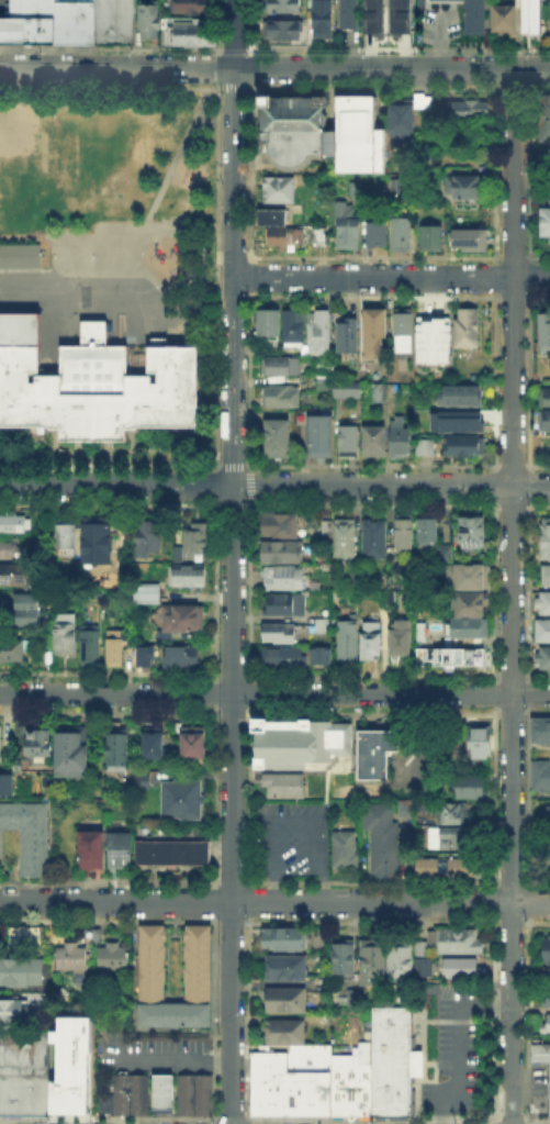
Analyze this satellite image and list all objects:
building: (79, 0)
building: (282, 7)
building: (31, 8)
building: (191, 8)
building: (467, 13)
building: (349, 14)
building: (379, 16)
building: (527, 16)
building: (404, 18)
building: (505, 19)
building: (112, 21)
building: (549, 21)
building: (71, 22)
building: (149, 22)
building: (324, 23)
road: (251, 25)
road: (217, 26)
building: (25, 30)
building: (283, 32)
building: (190, 33)
road: (110, 46)
road: (234, 47)
road: (399, 47)
road: (217, 67)
road: (252, 67)
road: (274, 69)
road: (110, 86)
road: (232, 87)
road: (371, 88)
road: (513, 89)
road: (539, 89)
building: (464, 115)
building: (406, 118)
building: (547, 124)
building: (324, 136)
road: (233, 137)
road: (251, 173)
building: (468, 189)
building: (280, 191)
road: (154, 193)
park: (112, 194)
building: (546, 225)
building: (280, 229)
building: (347, 229)
building: (377, 235)
building: (402, 235)
building: (467, 236)
building: (321, 238)
building: (433, 241)
building: (19, 254)
road: (216, 276)
road: (251, 276)
road: (391, 277)
road: (14, 299)
road: (130, 301)
building: (269, 325)
building: (295, 330)
building: (467, 330)
building: (404, 332)
building: (543, 332)
building: (322, 334)
building: (428, 334)
building: (375, 335)
building: (348, 337)
building: (282, 366)
building: (323, 377)
road: (250, 379)
road: (232, 380)
building: (91, 382)
building: (385, 388)
building: (347, 391)
building: (460, 396)
building: (545, 398)
building: (281, 399)
building: (465, 422)
building: (547, 425)
building: (319, 435)
building: (278, 438)
building: (401, 438)
building: (350, 444)
building: (375, 446)
building: (464, 447)
building: (426, 448)
road: (110, 464)
road: (233, 465)
road: (372, 465)
road: (512, 465)
road: (537, 465)
road: (115, 483)
road: (251, 483)
road: (390, 483)
road: (216, 485)
road: (111, 502)
road: (233, 504)
road: (372, 504)
road: (537, 504)
road: (512, 505)
building: (14, 525)
building: (281, 526)
building: (428, 532)
building: (405, 534)
building: (472, 534)
building: (149, 535)
building: (63, 536)
building: (345, 541)
building: (545, 541)
building: (375, 542)
building: (98, 543)
building: (193, 545)
building: (8, 552)
building: (285, 555)
building: (15, 576)
building: (467, 576)
building: (547, 577)
building: (189, 578)
building: (285, 580)
road: (215, 590)
road: (250, 590)
building: (147, 597)
road: (512, 597)
building: (545, 602)
building: (2, 604)
building: (470, 604)
building: (287, 605)
building: (27, 612)
building: (182, 621)
building: (324, 627)
building: (467, 630)
building: (543, 632)
building: (279, 634)
building: (65, 635)
building: (401, 639)
building: (348, 641)
building: (373, 643)
building: (90, 648)
building: (317, 653)
building: (12, 654)
building: (115, 654)
building: (142, 654)
building: (280, 655)
building: (451, 658)
building: (182, 659)
building: (543, 659)
road: (274, 691)
road: (214, 692)
road: (249, 692)
building: (539, 728)
building: (295, 741)
building: (155, 743)
building: (480, 745)
building: (117, 746)
building: (38, 748)
building: (193, 748)
building: (72, 750)
building: (377, 755)
building: (538, 774)
building: (139, 779)
building: (282, 783)
building: (7, 787)
building: (471, 788)
road: (249, 794)
road: (214, 795)
building: (179, 798)
road: (228, 803)
building: (451, 812)
building: (547, 812)
road: (293, 819)
building: (29, 837)
building: (380, 838)
building: (451, 839)
building: (89, 846)
building: (117, 846)
building: (548, 847)
building: (169, 850)
building: (346, 850)
building: (427, 868)
building: (461, 868)
road: (274, 900)
road: (214, 901)
road: (249, 901)
building: (92, 935)
building: (284, 938)
building: (462, 941)
building: (546, 951)
building: (341, 958)
building: (75, 959)
building: (114, 959)
building: (423, 959)
building: (195, 961)
building: (399, 961)
building: (371, 964)
building: (459, 966)
building: (288, 969)
building: (22, 972)
building: (473, 975)
building: (549, 979)
building: (283, 998)
building: (355, 1000)
building: (547, 1001)
building: (11, 1009)
road: (214, 1016)
road: (248, 1016)
building: (545, 1022)
building: (282, 1030)
building: (24, 1042)
road: (456, 1042)
building: (539, 1051)
road: (164, 1059)
building: (389, 1060)
building: (24, 1064)
building: (69, 1065)
building: (288, 1079)
building: (349, 1081)
building: (548, 1088)
building: (159, 1089)
building: (136, 1093)
building: (192, 1093)
building: (11, 1094)
building: (29, 1094)
building: (43, 1094)
building: (114, 1095)
road: (229, 1119)

